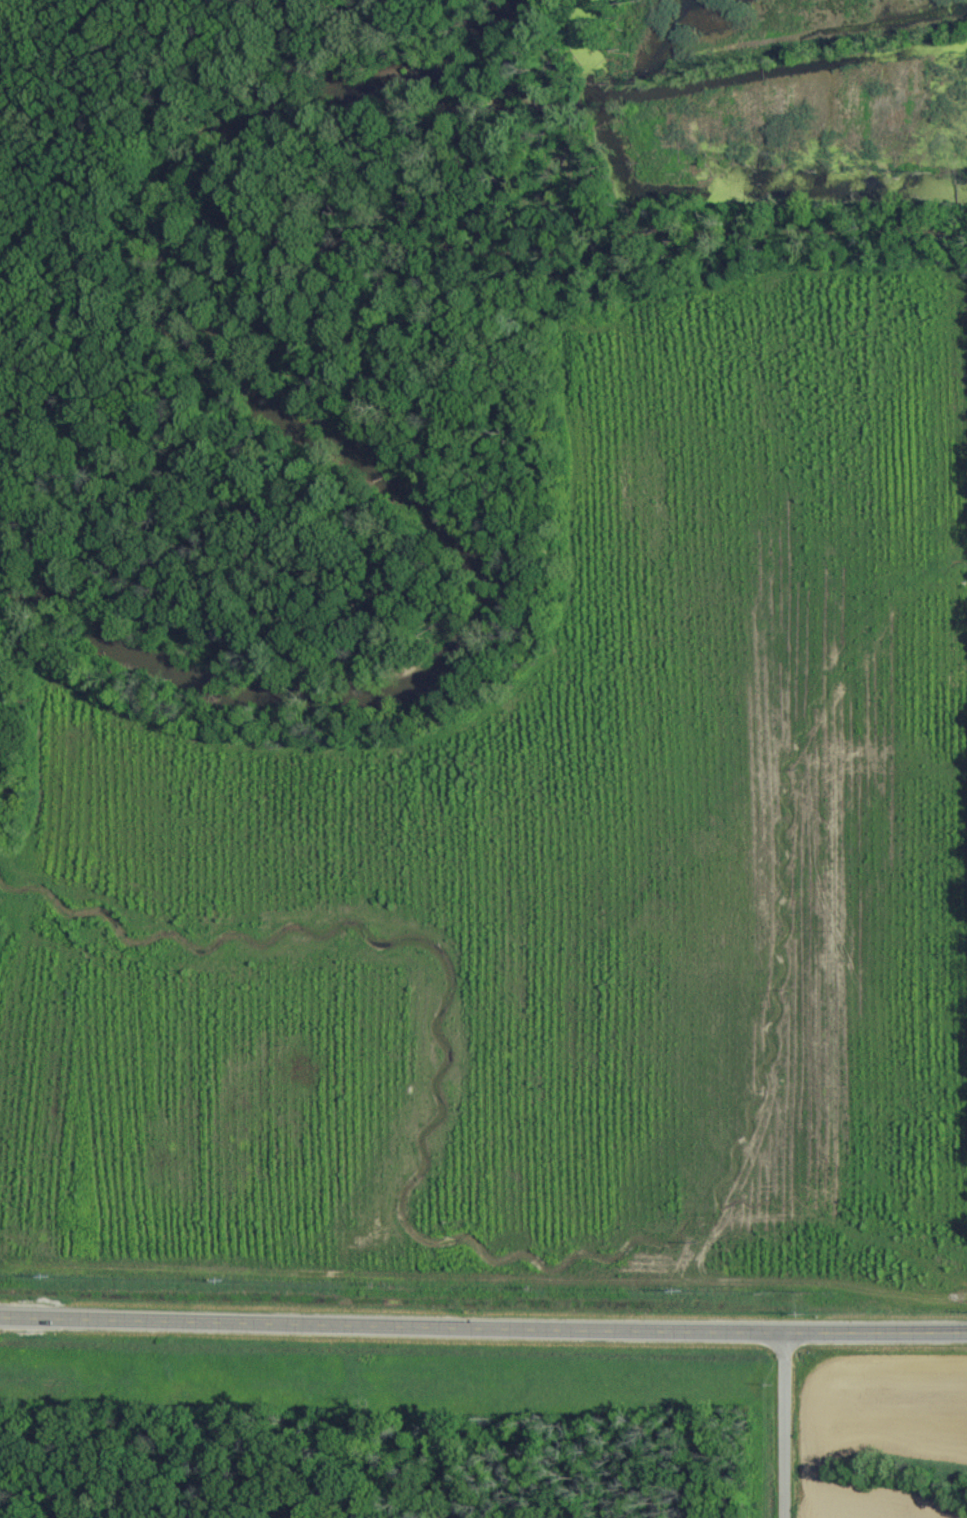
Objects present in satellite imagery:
road: (483, 1320)
road: (788, 1423)

